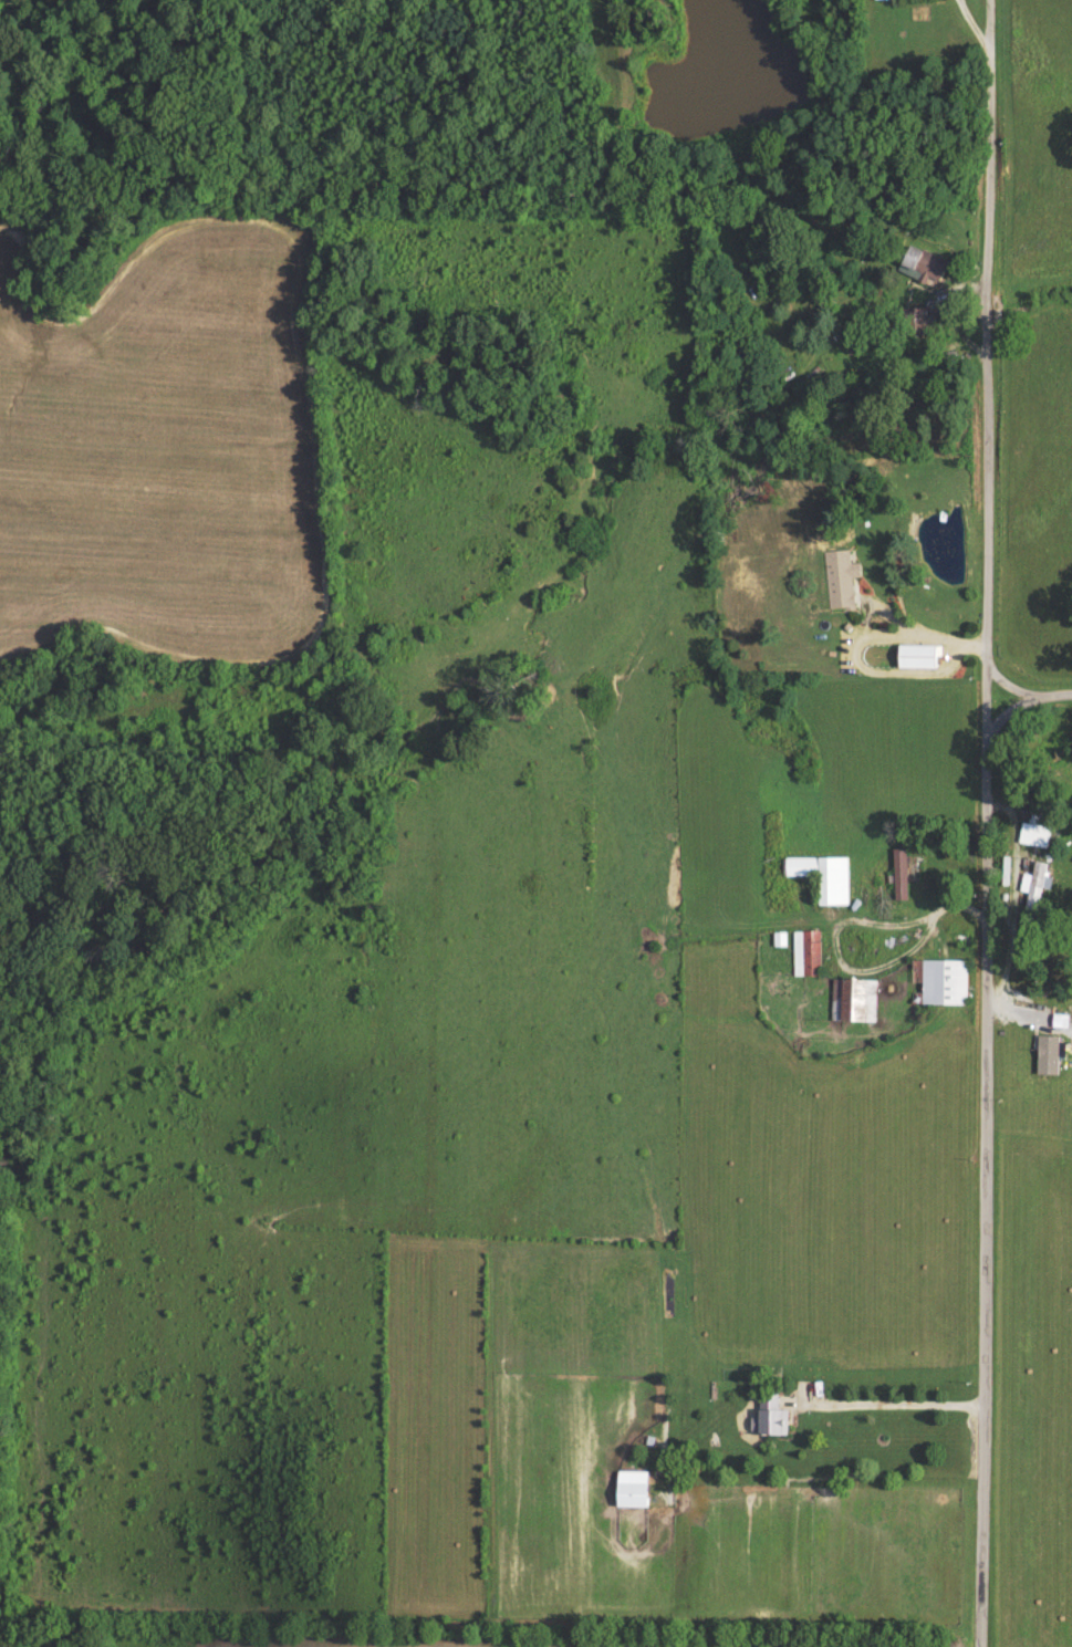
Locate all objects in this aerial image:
building: (920, 271)
building: (837, 583)
building: (916, 660)
road: (1007, 681)
road: (1055, 691)
road: (1010, 708)
road: (983, 823)
building: (1033, 835)
building: (898, 878)
building: (822, 880)
building: (1032, 890)
building: (778, 944)
building: (804, 958)
building: (937, 986)
building: (852, 1003)
building: (1045, 1059)
road: (892, 1409)
building: (770, 1420)
building: (632, 1499)

